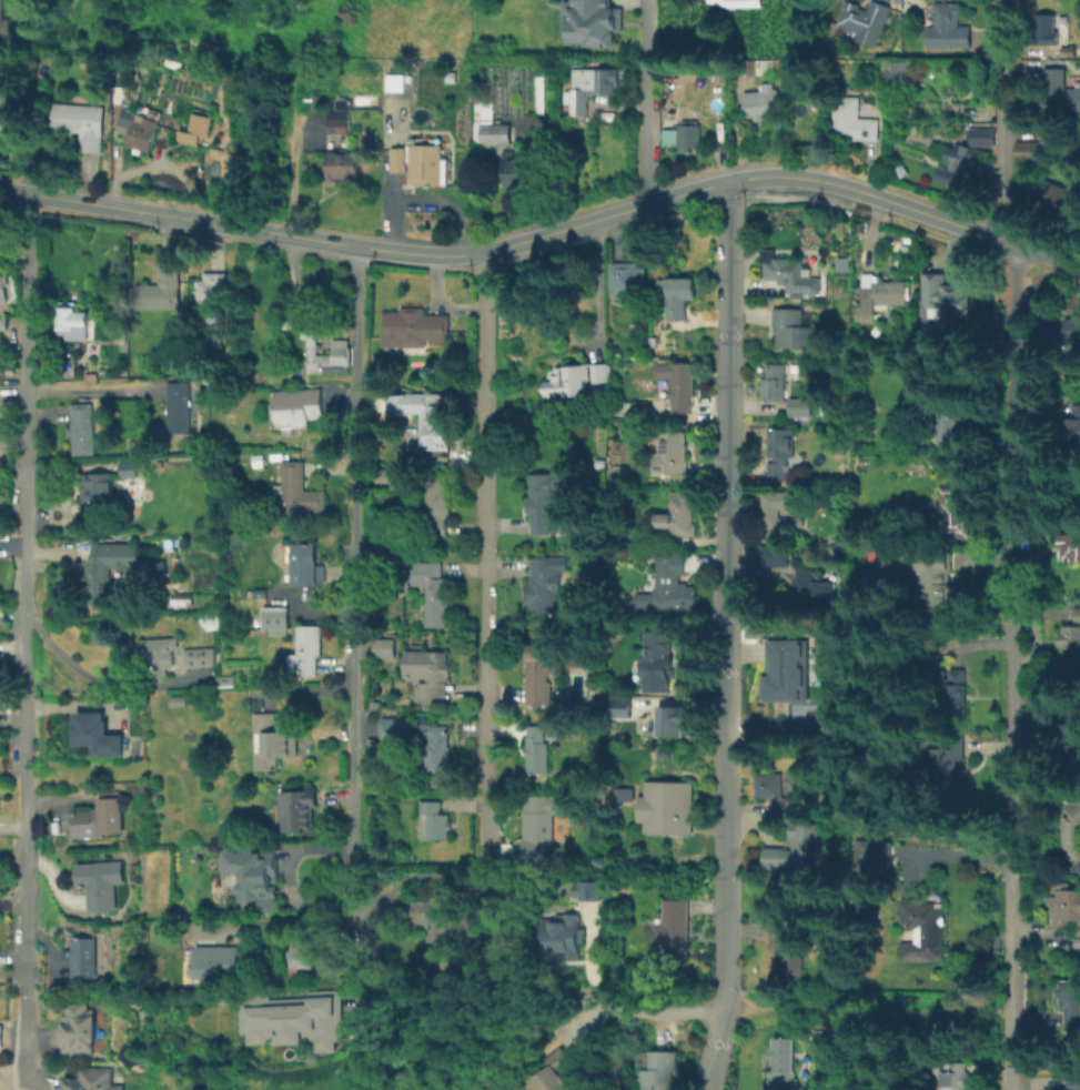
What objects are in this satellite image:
building: (745, 4)
building: (592, 18)
building: (867, 19)
building: (3, 21)
building: (949, 26)
building: (1046, 29)
building: (753, 67)
building: (901, 74)
building: (393, 82)
building: (588, 87)
building: (1060, 94)
building: (504, 99)
building: (553, 101)
road: (644, 101)
building: (761, 101)
building: (6, 107)
building: (907, 110)
building: (852, 120)
building: (85, 125)
building: (135, 127)
building: (192, 129)
building: (688, 133)
building: (980, 135)
building: (667, 137)
building: (339, 144)
road: (300, 148)
building: (1030, 149)
building: (971, 153)
building: (397, 159)
building: (514, 165)
building: (430, 170)
building: (1060, 191)
road: (546, 231)
road: (993, 246)
building: (790, 275)
building: (627, 280)
road: (595, 282)
building: (2, 286)
building: (160, 290)
building: (211, 295)
building: (677, 295)
building: (879, 296)
building: (940, 296)
building: (70, 315)
building: (3, 323)
building: (413, 324)
building: (791, 327)
building: (1072, 327)
building: (120, 336)
building: (341, 341)
building: (600, 373)
building: (221, 380)
building: (567, 381)
building: (776, 381)
building: (680, 386)
road: (88, 391)
building: (178, 406)
building: (297, 406)
building: (799, 406)
building: (635, 407)
building: (950, 417)
building: (1071, 422)
building: (435, 427)
building: (82, 428)
building: (777, 451)
building: (672, 453)
building: (256, 460)
building: (128, 465)
building: (402, 482)
building: (100, 485)
building: (300, 490)
building: (436, 504)
building: (543, 507)
building: (774, 508)
building: (950, 513)
building: (679, 514)
building: (1072, 543)
road: (1011, 544)
building: (822, 547)
road: (485, 554)
building: (776, 555)
building: (306, 564)
building: (100, 568)
building: (545, 583)
building: (669, 583)
building: (939, 583)
building: (403, 587)
building: (430, 587)
building: (814, 589)
building: (262, 596)
building: (182, 597)
building: (626, 604)
building: (1078, 615)
building: (220, 618)
building: (276, 619)
road: (357, 627)
road: (724, 636)
building: (832, 639)
road: (21, 640)
building: (1072, 643)
building: (384, 648)
building: (305, 650)
building: (160, 656)
building: (199, 656)
building: (658, 658)
building: (539, 672)
building: (787, 672)
road: (85, 673)
building: (428, 673)
building: (225, 680)
building: (953, 684)
building: (622, 704)
building: (672, 717)
building: (1070, 723)
building: (395, 727)
building: (94, 730)
building: (269, 740)
building: (435, 747)
building: (536, 749)
building: (664, 753)
building: (949, 758)
building: (773, 789)
building: (623, 793)
building: (677, 808)
building: (297, 809)
building: (99, 819)
building: (433, 820)
building: (539, 822)
building: (1069, 830)
building: (801, 831)
building: (874, 849)
road: (948, 851)
building: (773, 856)
building: (253, 874)
building: (101, 882)
building: (587, 887)
road: (11, 906)
building: (1070, 907)
building: (442, 920)
building: (675, 928)
building: (925, 932)
building: (562, 933)
building: (1077, 942)
building: (787, 943)
building: (305, 952)
building: (82, 956)
building: (219, 960)
building: (226, 998)
building: (1068, 1000)
road: (457, 1009)
road: (867, 1010)
road: (632, 1011)
building: (297, 1017)
building: (77, 1027)
building: (1, 1033)
building: (783, 1063)
building: (658, 1071)
building: (554, 1073)
building: (956, 1076)
building: (90, 1079)
building: (1073, 1082)

